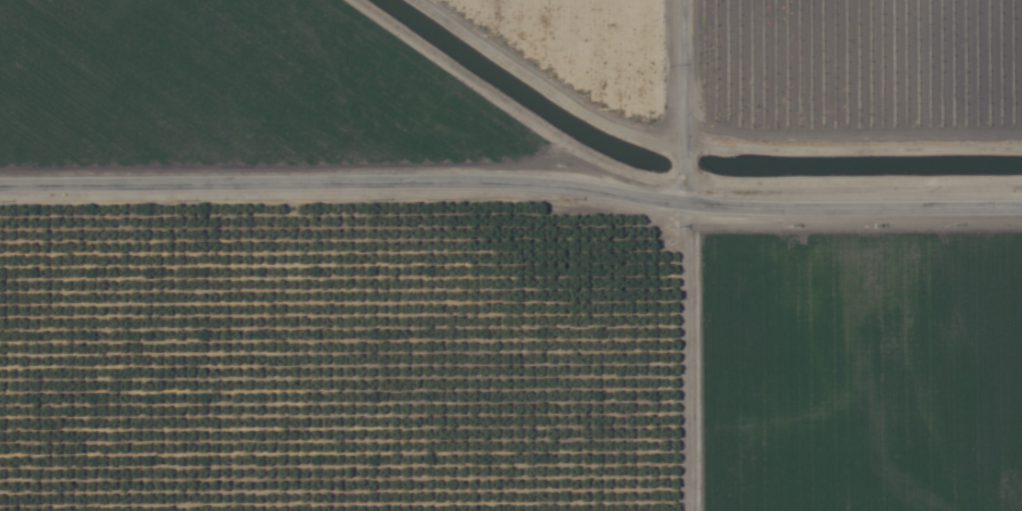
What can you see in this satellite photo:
road: (687, 102)
road: (511, 181)
crop: (511, 255)

